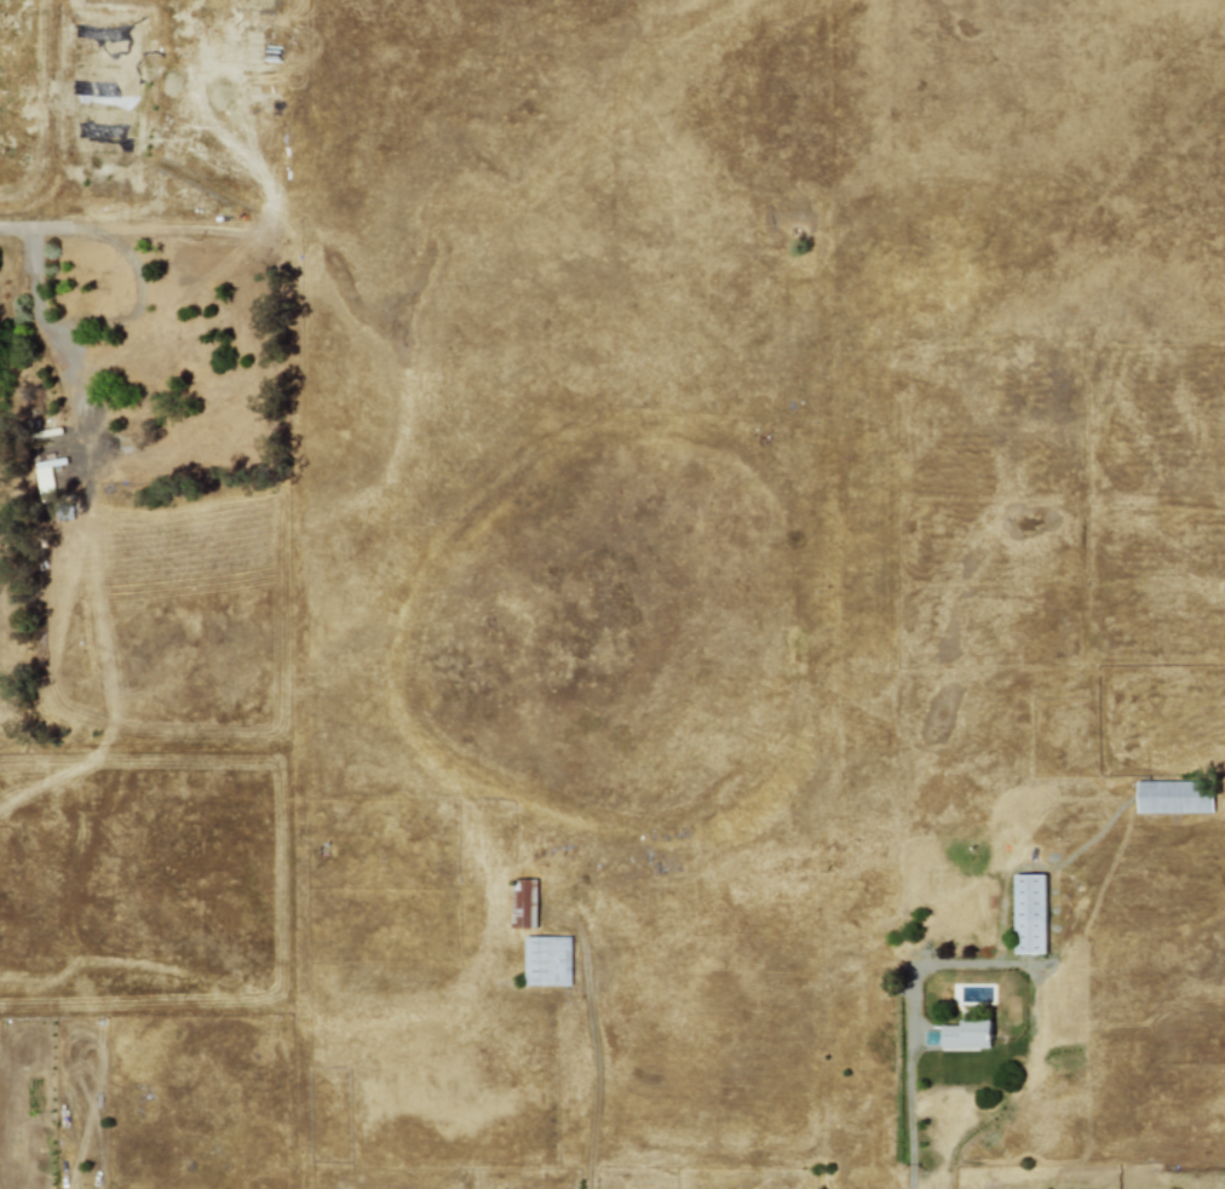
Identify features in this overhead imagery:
road: (127, 255)
road: (29, 286)
building: (1173, 797)
building: (523, 903)
building: (1029, 914)
building: (547, 960)
building: (966, 1034)
road: (593, 1057)
road: (909, 1107)

